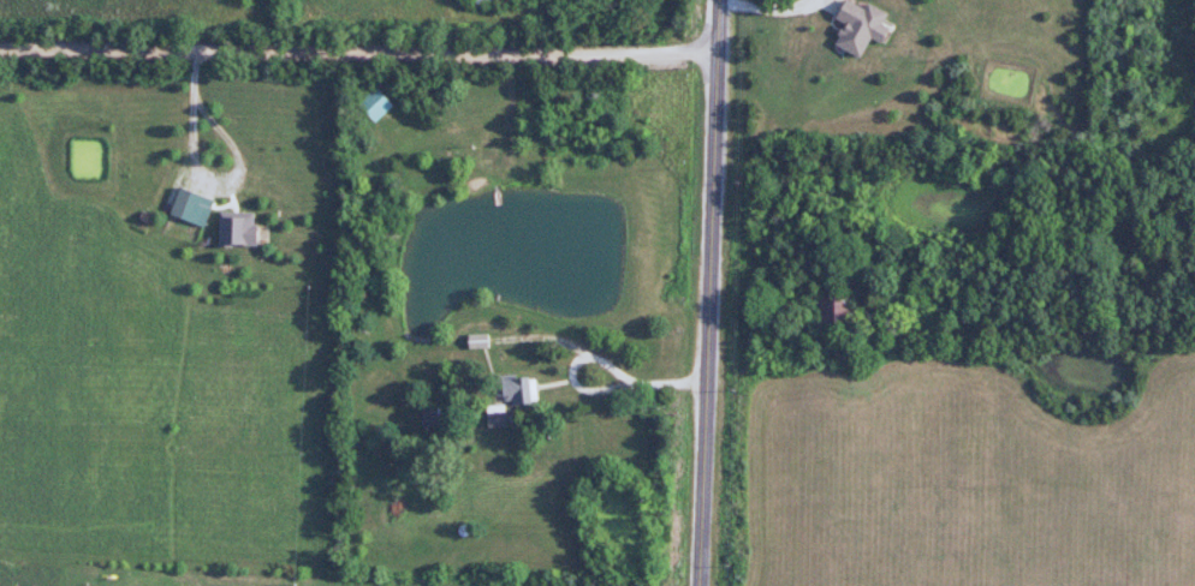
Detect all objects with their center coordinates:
building: (489, 1)
road: (357, 47)
building: (375, 103)
road: (197, 179)
building: (195, 208)
building: (238, 228)
road: (706, 293)
building: (831, 313)
building: (477, 341)
building: (515, 389)
building: (499, 417)
building: (434, 418)

